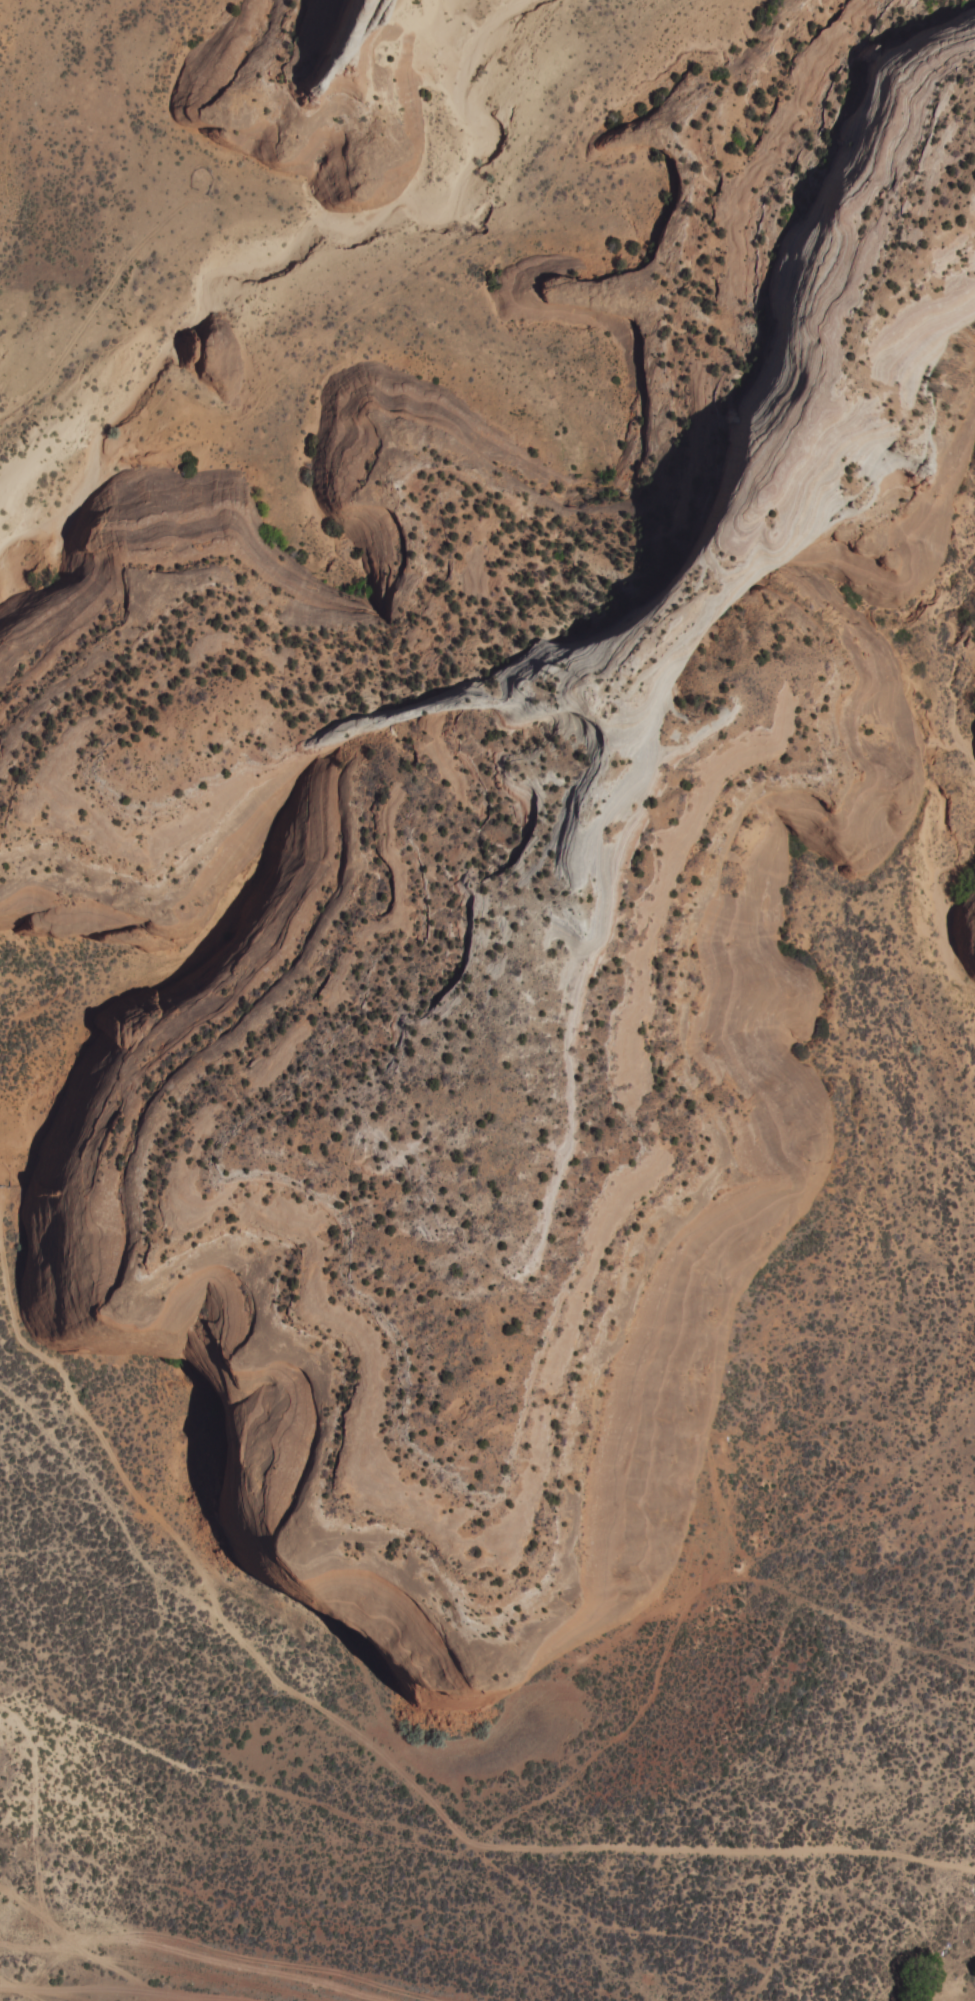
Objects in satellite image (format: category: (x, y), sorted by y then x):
road: (103, 1981)
road: (155, 1996)

